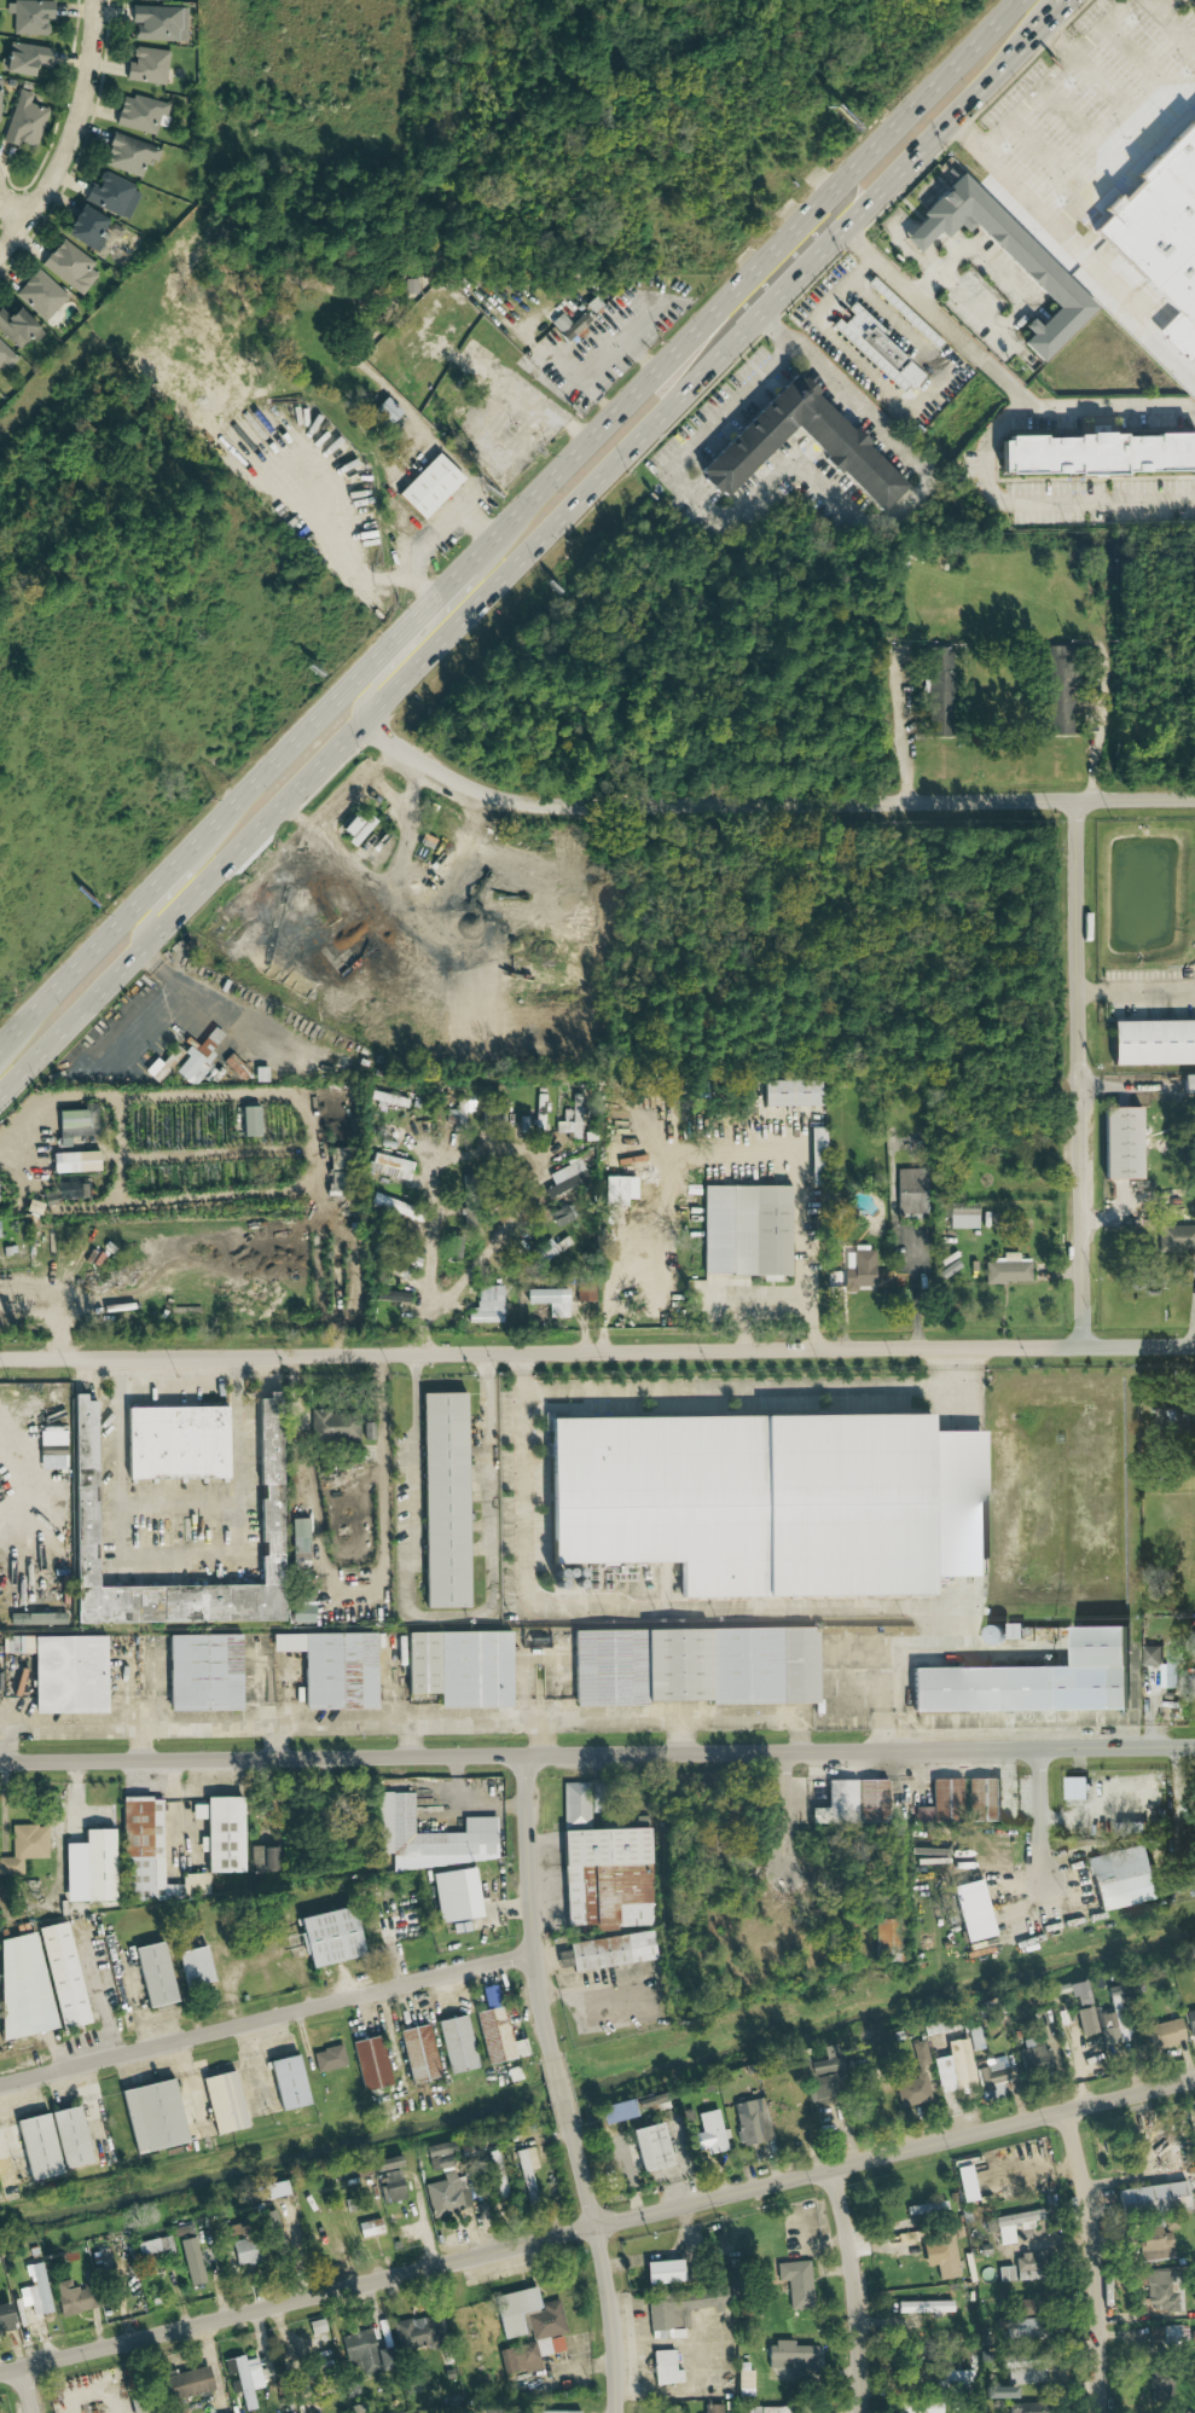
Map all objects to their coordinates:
building: (162, 0)
road: (1065, 2)
building: (28, 16)
building: (158, 23)
road: (1067, 48)
building: (23, 58)
road: (1100, 63)
building: (146, 65)
building: (23, 122)
road: (71, 132)
building: (127, 155)
road: (1125, 156)
building: (111, 196)
road: (10, 210)
building: (1161, 225)
building: (86, 228)
road: (1071, 242)
building: (69, 265)
building: (1050, 279)
road: (743, 283)
building: (39, 295)
building: (905, 312)
road: (933, 317)
building: (17, 327)
road: (632, 346)
building: (883, 348)
building: (863, 349)
building: (5, 358)
road: (549, 411)
road: (1107, 413)
building: (839, 447)
building: (1094, 454)
road: (824, 483)
building: (428, 487)
road: (1039, 505)
road: (434, 534)
road: (529, 549)
road: (431, 601)
road: (376, 679)
building: (1058, 690)
building: (939, 691)
road: (913, 725)
road: (1103, 730)
road: (767, 805)
road: (198, 841)
road: (158, 901)
road: (1139, 991)
building: (1153, 1043)
building: (192, 1066)
road: (1085, 1074)
building: (1188, 1084)
building: (791, 1092)
building: (570, 1119)
building: (249, 1120)
building: (75, 1123)
building: (1121, 1142)
road: (468, 1154)
road: (735, 1154)
building: (816, 1154)
building: (336, 1159)
building: (74, 1161)
building: (389, 1166)
building: (565, 1178)
building: (336, 1181)
building: (71, 1190)
building: (614, 1190)
building: (910, 1191)
building: (393, 1206)
building: (559, 1216)
building: (963, 1216)
building: (746, 1230)
building: (1176, 1239)
building: (549, 1251)
building: (1007, 1269)
building: (860, 1270)
road: (926, 1271)
building: (585, 1290)
building: (390, 1295)
building: (550, 1300)
road: (754, 1300)
building: (487, 1305)
road: (428, 1333)
road: (597, 1352)
road: (755, 1388)
building: (333, 1427)
building: (175, 1443)
building: (51, 1449)
road: (35, 1456)
road: (524, 1478)
road: (383, 1485)
road: (182, 1491)
building: (442, 1500)
building: (770, 1501)
building: (82, 1522)
building: (297, 1541)
road: (179, 1561)
road: (907, 1605)
road: (684, 1606)
building: (300, 1612)
road: (448, 1618)
building: (36, 1620)
road: (894, 1640)
building: (1150, 1655)
building: (694, 1665)
building: (332, 1667)
building: (458, 1667)
building: (62, 1670)
building: (202, 1672)
building: (1168, 1672)
building: (1032, 1680)
road: (685, 1696)
road: (551, 1699)
road: (144, 1701)
road: (284, 1709)
road: (399, 1709)
road: (12, 1713)
road: (401, 1723)
road: (597, 1754)
building: (1073, 1787)
building: (982, 1799)
building: (871, 1800)
building: (841, 1802)
building: (942, 1802)
road: (789, 1819)
road: (1045, 1821)
building: (220, 1833)
building: (1185, 1834)
building: (431, 1837)
building: (24, 1846)
building: (150, 1855)
building: (262, 1858)
building: (88, 1867)
building: (602, 1867)
building: (1121, 1878)
building: (456, 1895)
road: (530, 1908)
building: (971, 1910)
building: (396, 1927)
building: (887, 1932)
building: (327, 1937)
building: (610, 1950)
building: (193, 1966)
building: (62, 1974)
building: (152, 1974)
building: (23, 1986)
building: (1081, 1993)
building: (1118, 2015)
road: (266, 2018)
building: (1085, 2020)
building: (1190, 2022)
building: (1104, 2029)
building: (1170, 2031)
building: (498, 2036)
building: (975, 2037)
building: (457, 2043)
building: (418, 2053)
building: (1034, 2055)
building: (327, 2059)
road: (262, 2063)
building: (370, 2063)
building: (961, 2064)
building: (826, 2078)
building: (993, 2078)
road: (199, 2080)
building: (915, 2080)
building: (286, 2082)
river: (597, 2084)
road: (562, 2090)
building: (222, 2102)
road: (104, 2105)
building: (616, 2111)
building: (151, 2116)
building: (750, 2122)
building: (708, 2133)
building: (51, 2142)
building: (650, 2147)
building: (439, 2156)
building: (526, 2171)
building: (389, 2179)
building: (274, 2189)
building: (446, 2196)
building: (1152, 2198)
building: (1015, 2223)
road: (597, 2226)
building: (369, 2228)
building: (274, 2234)
building: (1155, 2239)
building: (244, 2251)
building: (188, 2255)
building: (940, 2255)
road: (1094, 2260)
road: (603, 2266)
building: (1028, 2267)
building: (662, 2272)
building: (1005, 2274)
building: (796, 2283)
building: (35, 2290)
road: (853, 2290)
building: (1162, 2290)
building: (72, 2298)
building: (923, 2307)
building: (683, 2310)
building: (5, 2316)
building: (545, 2324)
building: (1025, 2328)
building: (418, 2333)
building: (1171, 2333)
building: (364, 2354)
building: (789, 2356)
building: (665, 2368)
building: (1025, 2370)
building: (245, 2378)
building: (955, 2378)
building: (743, 2379)
building: (185, 2383)
building: (1161, 2388)
road: (27, 2389)
building: (998, 2392)
building: (922, 2407)
building: (712, 2408)
building: (1033, 2408)
building: (778, 2409)
building: (553, 2412)

